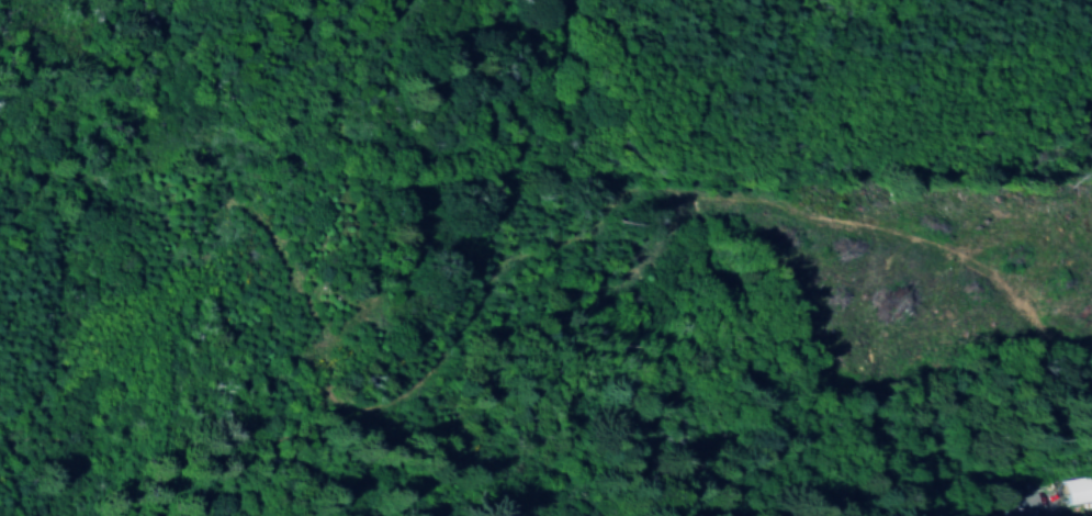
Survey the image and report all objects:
building: (1077, 490)
building: (1015, 511)

